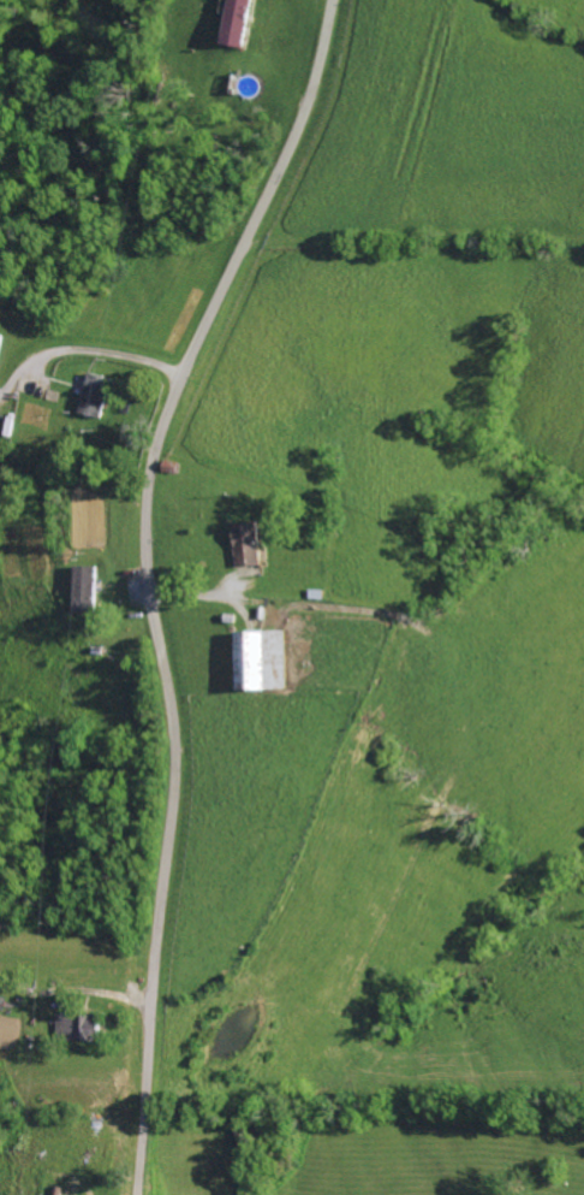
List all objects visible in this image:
building: (237, 23)
building: (1, 342)
road: (111, 353)
building: (99, 396)
building: (250, 544)
road: (149, 581)
building: (84, 590)

